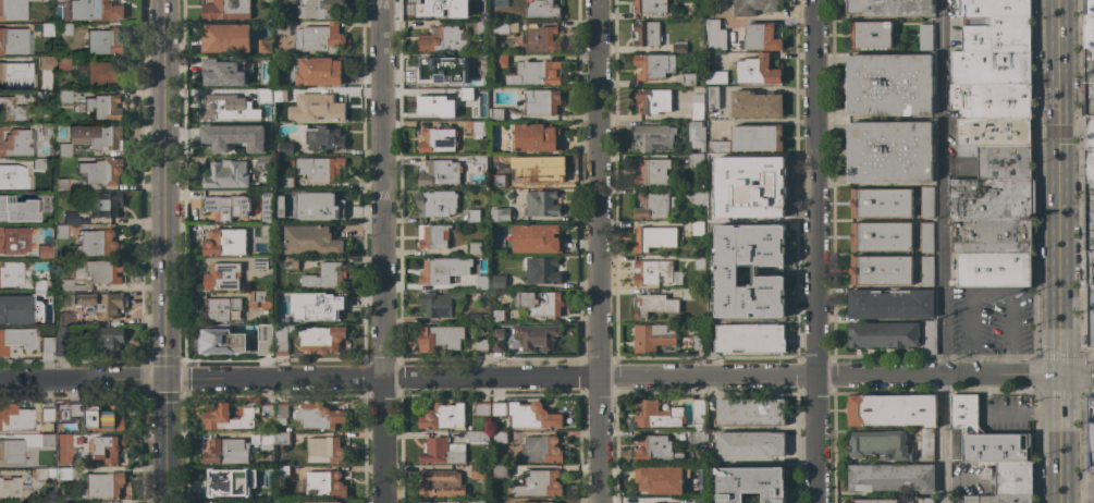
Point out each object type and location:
building: (53, 0)
building: (267, 1)
building: (699, 2)
building: (500, 3)
building: (651, 5)
building: (712, 5)
building: (754, 7)
building: (889, 7)
building: (1089, 7)
building: (320, 9)
building: (542, 9)
building: (992, 9)
building: (12, 10)
building: (95, 10)
building: (226, 10)
building: (439, 10)
building: (694, 12)
building: (260, 27)
building: (500, 27)
building: (65, 28)
building: (282, 28)
building: (479, 28)
building: (47, 29)
building: (1089, 30)
building: (646, 34)
building: (996, 34)
building: (714, 35)
building: (870, 35)
building: (318, 37)
building: (761, 37)
building: (925, 37)
building: (225, 39)
building: (541, 39)
building: (15, 40)
building: (442, 40)
building: (105, 41)
building: (263, 46)
building: (678, 47)
building: (500, 60)
building: (254, 61)
building: (47, 62)
building: (63, 62)
building: (654, 65)
building: (1086, 65)
building: (476, 66)
building: (992, 68)
building: (758, 70)
building: (320, 71)
building: (101, 73)
building: (438, 73)
building: (534, 73)
building: (12, 74)
building: (218, 75)
building: (715, 77)
building: (687, 78)
building: (889, 85)
building: (260, 94)
building: (283, 94)
building: (466, 94)
building: (42, 96)
building: (64, 96)
building: (712, 98)
building: (1086, 98)
building: (653, 100)
building: (991, 100)
building: (541, 101)
building: (755, 105)
building: (101, 107)
building: (697, 107)
building: (217, 108)
building: (318, 108)
building: (439, 108)
building: (13, 110)
building: (496, 114)
building: (476, 128)
building: (48, 130)
building: (259, 130)
traffic signals: (1055, 131)
building: (994, 132)
building: (1089, 132)
building: (653, 136)
building: (696, 136)
building: (321, 137)
building: (534, 137)
building: (757, 138)
building: (91, 139)
building: (223, 140)
building: (438, 140)
building: (15, 142)
building: (718, 146)
building: (284, 149)
building: (889, 152)
building: (698, 160)
building: (999, 160)
building: (481, 161)
building: (263, 162)
building: (40, 163)
building: (713, 164)
building: (1089, 165)
building: (320, 169)
building: (546, 170)
building: (102, 171)
building: (755, 171)
building: (440, 172)
building: (652, 172)
building: (225, 174)
building: (21, 177)
building: (499, 181)
building: (285, 183)
building: (60, 184)
road: (1055, 187)
road: (163, 189)
building: (696, 197)
building: (712, 198)
building: (992, 198)
building: (927, 201)
building: (757, 203)
building: (881, 203)
building: (107, 204)
building: (435, 204)
building: (541, 204)
building: (654, 204)
building: (283, 206)
building: (319, 206)
building: (16, 208)
building: (242, 210)
building: (501, 214)
building: (472, 216)
building: (1087, 217)
building: (71, 218)
building: (62, 231)
building: (992, 235)
building: (432, 236)
building: (698, 236)
building: (882, 236)
building: (925, 236)
building: (757, 237)
building: (13, 238)
building: (536, 238)
building: (654, 238)
building: (311, 241)
building: (224, 242)
building: (712, 242)
building: (97, 244)
building: (474, 248)
building: (44, 250)
road: (382, 250)
road: (594, 251)
road: (813, 251)
road: (942, 251)
building: (700, 261)
building: (291, 262)
building: (260, 263)
building: (714, 267)
building: (1089, 267)
building: (995, 269)
building: (101, 270)
building: (442, 270)
building: (881, 270)
building: (541, 271)
building: (763, 271)
building: (926, 271)
building: (655, 272)
building: (11, 273)
building: (325, 275)
building: (222, 277)
building: (481, 282)
building: (499, 282)
building: (65, 284)
building: (39, 285)
building: (687, 294)
road: (988, 294)
building: (290, 295)
building: (260, 299)
building: (439, 303)
building: (539, 303)
building: (100, 304)
building: (754, 304)
building: (890, 304)
building: (653, 305)
building: (713, 305)
building: (16, 308)
building: (331, 308)
building: (223, 309)
building: (499, 316)
building: (1091, 316)
building: (65, 318)
building: (477, 318)
parking lot: (992, 323)
building: (262, 332)
building: (884, 334)
building: (537, 336)
building: (440, 338)
building: (653, 338)
building: (750, 338)
building: (929, 338)
building: (321, 339)
building: (15, 340)
building: (107, 340)
building: (497, 340)
building: (61, 341)
building: (281, 341)
building: (47, 342)
building: (220, 342)
building: (698, 343)
building: (262, 344)
building: (480, 345)
road: (1010, 365)
road: (969, 366)
road: (1033, 373)
road: (995, 375)
traffic signals: (1057, 375)
road: (490, 376)
road: (892, 376)
road: (974, 376)
road: (1074, 376)
road: (124, 380)
traffic signals: (167, 380)
road: (41, 381)
road: (1057, 392)
road: (982, 394)
building: (481, 409)
building: (699, 410)
building: (892, 410)
building: (67, 412)
building: (266, 412)
building: (750, 412)
road: (1020, 412)
building: (281, 413)
building: (318, 415)
building: (527, 415)
building: (655, 415)
building: (443, 416)
building: (216, 417)
building: (22, 418)
building: (103, 418)
building: (1090, 431)
road: (167, 432)
road: (422, 433)
road: (552, 433)
building: (985, 435)
building: (477, 437)
building: (282, 438)
building: (500, 438)
building: (698, 438)
building: (48, 439)
building: (64, 439)
building: (267, 439)
building: (878, 444)
building: (926, 444)
building: (750, 445)
building: (109, 450)
building: (541, 450)
building: (655, 450)
building: (12, 451)
building: (226, 451)
building: (325, 451)
building: (440, 451)
road: (1057, 456)
building: (701, 458)
building: (500, 470)
building: (51, 471)
building: (281, 471)
building: (480, 471)
building: (64, 473)
building: (39, 474)
building: (892, 477)
building: (223, 479)
building: (660, 479)
building: (1011, 479)
building: (440, 483)
building: (539, 483)
building: (752, 483)
building: (103, 484)
building: (322, 484)
building: (14, 488)
road: (1090, 489)
building: (256, 492)
road: (168, 493)
building: (992, 499)
building: (553, 500)
building: (698, 500)
building: (927, 500)
building: (501, 501)
building: (874, 501)
building: (70, 502)
building: (211, 502)
building: (319, 502)
building: (345, 502)
building: (442, 502)

